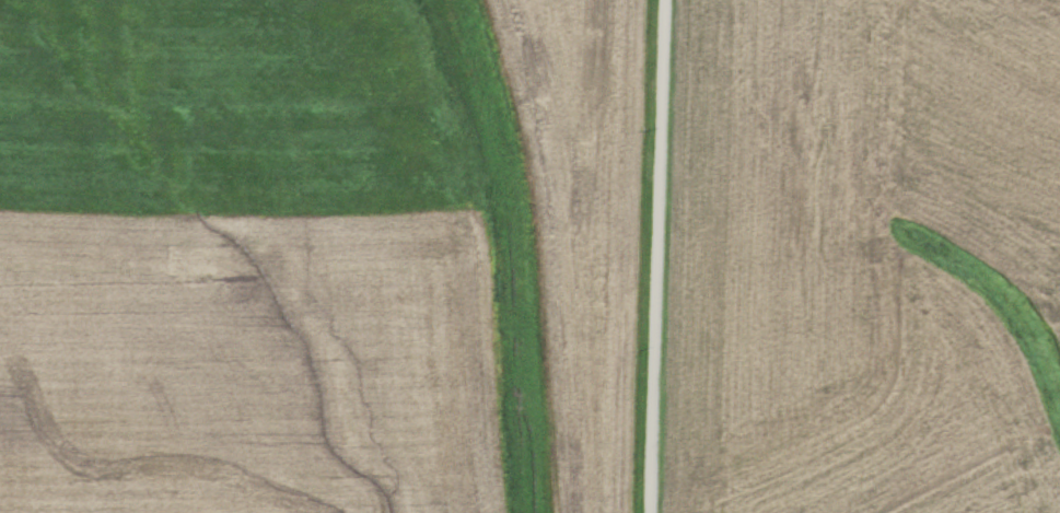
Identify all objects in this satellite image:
road: (652, 256)

